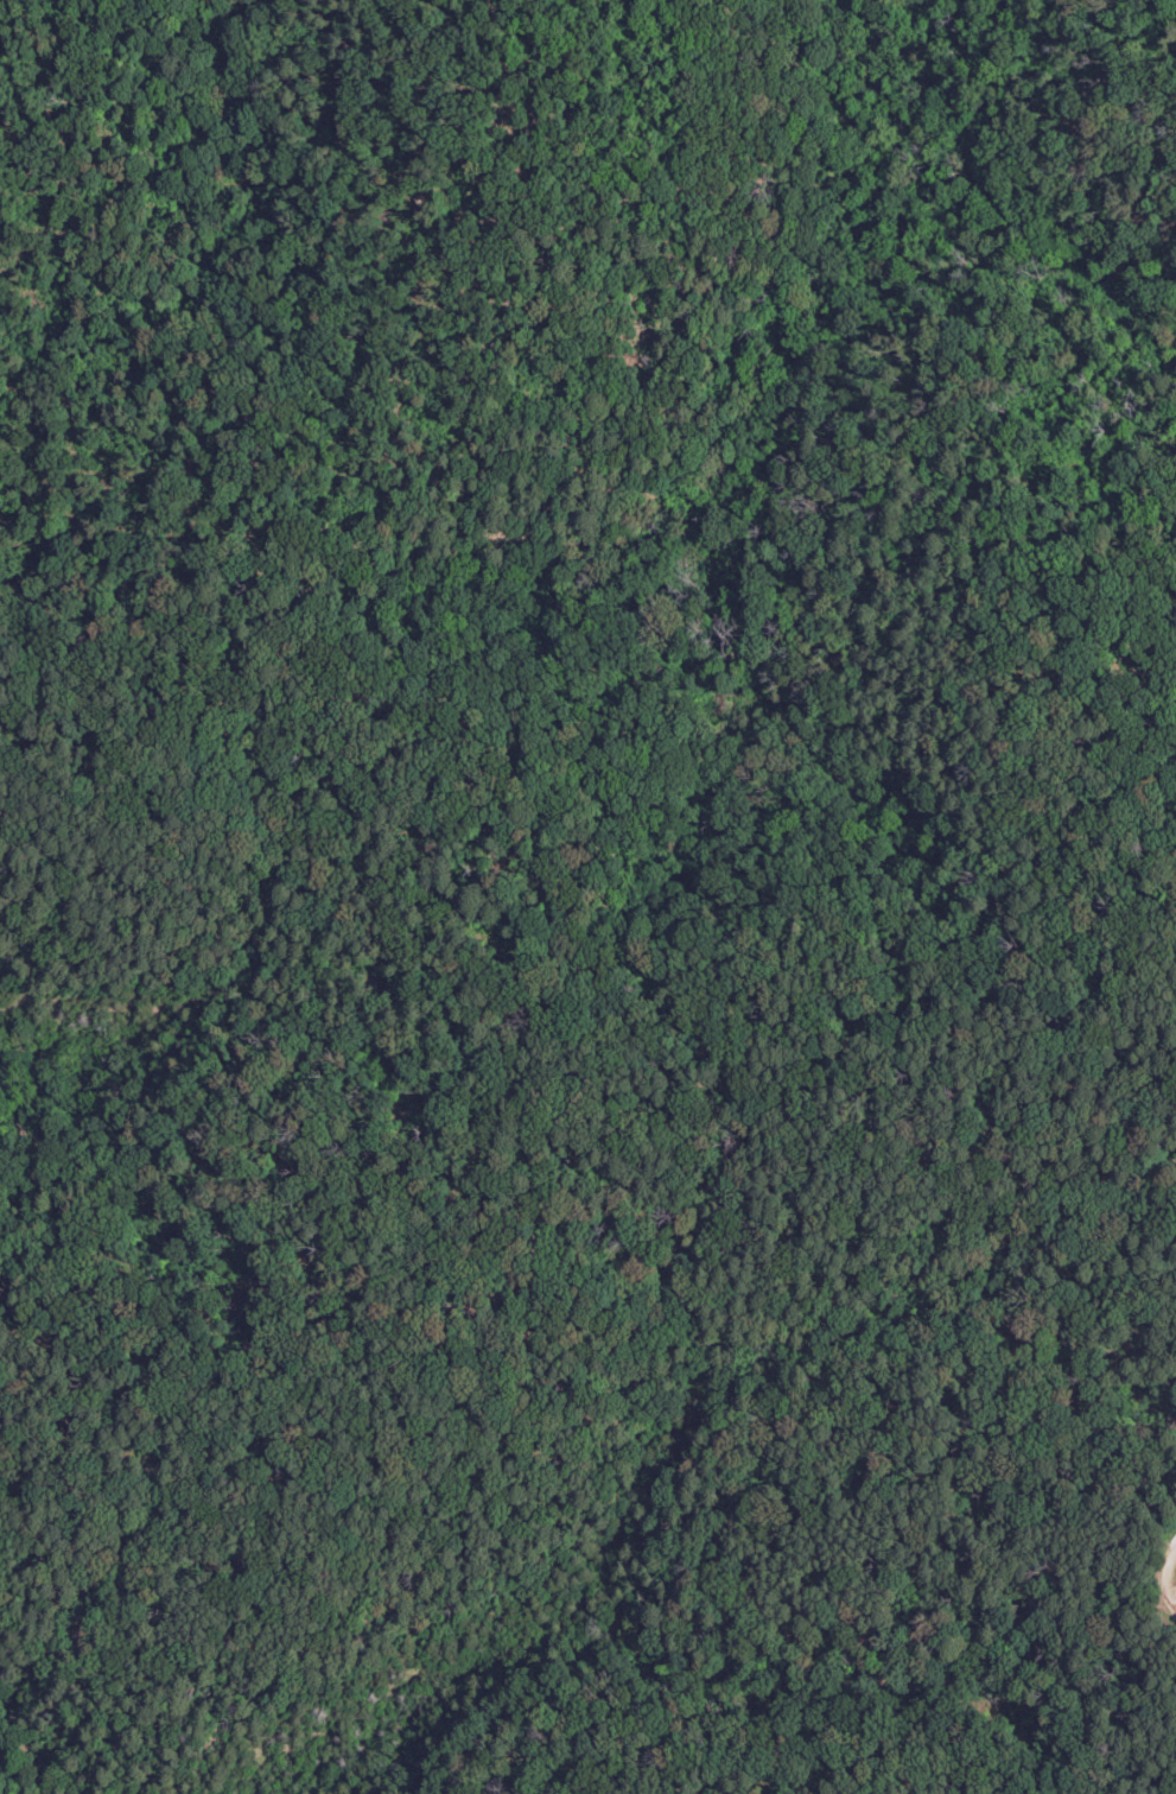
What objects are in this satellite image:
road: (867, 492)

